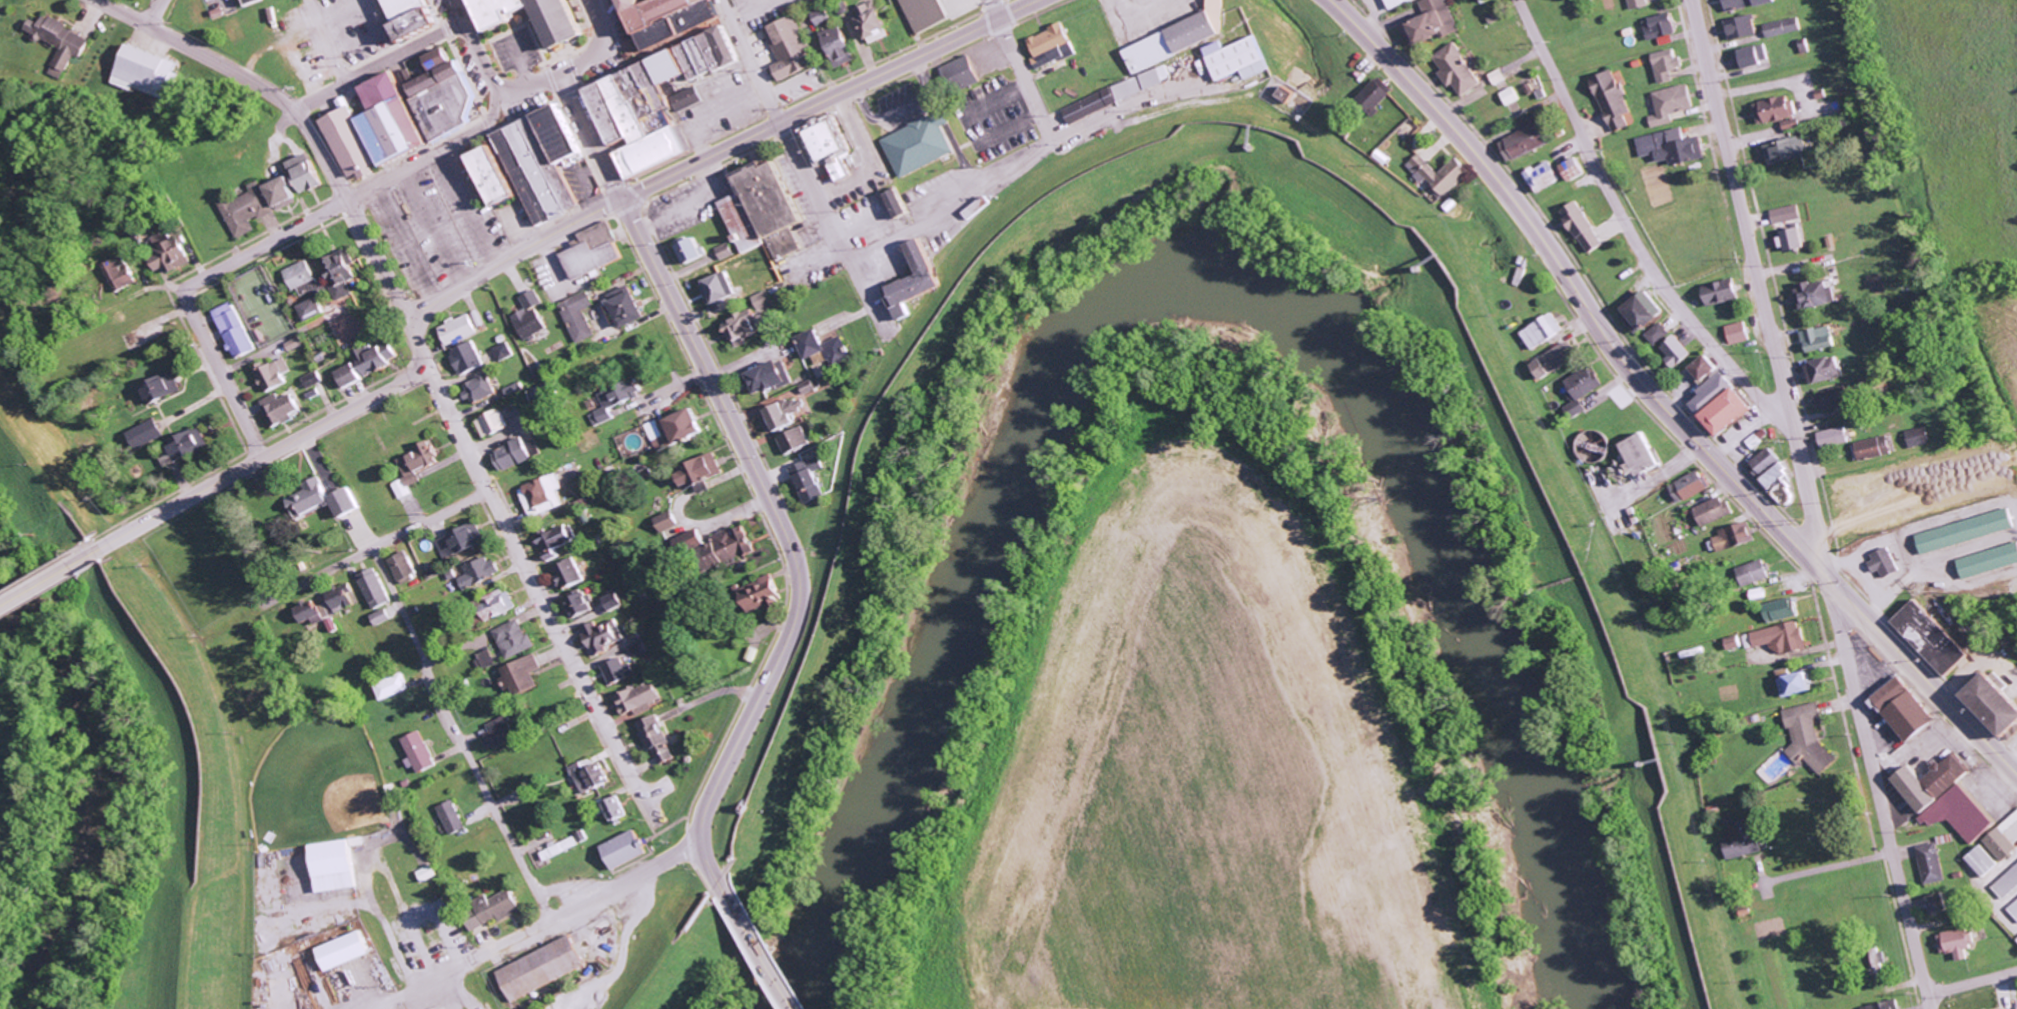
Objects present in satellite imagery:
building: (255, 2)
building: (1401, 3)
building: (1751, 3)
building: (1639, 4)
road: (150, 13)
building: (926, 14)
building: (417, 17)
building: (674, 18)
building: (874, 19)
building: (1440, 21)
building: (1662, 26)
building: (566, 27)
building: (1783, 27)
building: (1743, 28)
building: (1181, 39)
road: (325, 41)
building: (60, 42)
road: (598, 45)
building: (842, 46)
building: (1053, 47)
building: (793, 49)
building: (1752, 57)
building: (1242, 59)
road: (376, 64)
building: (1669, 65)
building: (1461, 70)
building: (147, 72)
road: (488, 73)
building: (963, 73)
road: (1022, 74)
building: (1121, 94)
building: (1293, 95)
building: (1378, 96)
road: (828, 99)
building: (1616, 100)
building: (662, 102)
building: (422, 104)
building: (1673, 104)
building: (1780, 112)
building: (1533, 137)
road: (592, 138)
building: (350, 140)
building: (922, 145)
building: (1675, 147)
building: (835, 149)
building: (1780, 153)
building: (537, 165)
road: (803, 166)
building: (1579, 169)
building: (306, 173)
building: (1443, 175)
building: (1548, 176)
road: (353, 193)
building: (260, 205)
building: (901, 205)
building: (767, 212)
building: (1782, 213)
building: (1586, 227)
road: (1635, 233)
building: (1786, 238)
building: (595, 251)
building: (691, 251)
building: (724, 251)
building: (174, 255)
road: (506, 260)
river: (1193, 270)
building: (126, 272)
building: (343, 273)
building: (302, 275)
building: (918, 282)
building: (718, 289)
building: (1716, 291)
building: (1811, 293)
building: (532, 301)
building: (762, 301)
building: (314, 309)
building: (1638, 309)
building: (629, 310)
building: (577, 316)
building: (530, 323)
building: (738, 328)
building: (460, 330)
building: (1541, 330)
building: (235, 331)
building: (1735, 332)
building: (1655, 333)
building: (1814, 338)
building: (825, 348)
building: (1672, 350)
building: (503, 352)
building: (379, 358)
building: (467, 359)
building: (1552, 360)
road: (425, 362)
building: (1698, 366)
building: (1820, 368)
road: (219, 375)
building: (274, 375)
building: (352, 376)
building: (770, 378)
building: (314, 379)
building: (163, 388)
building: (480, 389)
building: (1579, 389)
building: (513, 390)
building: (1705, 391)
building: (542, 393)
road: (1658, 398)
building: (1826, 399)
building: (610, 403)
building: (283, 411)
building: (1721, 411)
building: (786, 414)
building: (493, 424)
building: (686, 426)
building: (147, 434)
building: (1829, 436)
building: (1913, 436)
building: (794, 441)
building: (191, 445)
building: (1868, 447)
building: (1634, 454)
building: (513, 455)
building: (1761, 460)
building: (170, 461)
building: (416, 468)
building: (700, 472)
building: (1770, 474)
building: (808, 479)
road: (219, 480)
building: (1687, 486)
building: (542, 496)
building: (311, 499)
building: (349, 502)
road: (1813, 504)
building: (1710, 511)
building: (667, 521)
building: (1960, 530)
building: (1731, 536)
building: (460, 541)
building: (556, 541)
building: (719, 545)
road: (377, 547)
building: (1986, 560)
building: (1880, 562)
building: (405, 568)
building: (1750, 572)
building: (479, 573)
building: (568, 575)
building: (375, 588)
building: (764, 593)
building: (343, 600)
building: (614, 602)
building: (502, 604)
building: (577, 605)
road: (790, 609)
building: (1777, 609)
building: (382, 617)
building: (1779, 637)
building: (1925, 637)
building: (602, 638)
building: (514, 639)
building: (638, 650)
building: (488, 659)
building: (619, 672)
building: (524, 677)
building: (1792, 682)
building: (394, 687)
building: (637, 699)
building: (1898, 708)
building: (501, 732)
road: (458, 735)
building: (1805, 737)
building: (656, 739)
building: (421, 752)
building: (589, 778)
building: (1927, 781)
building: (616, 810)
building: (1958, 813)
building: (452, 817)
building: (1997, 843)
building: (1740, 845)
building: (560, 848)
building: (627, 849)
building: (1979, 861)
building: (1928, 863)
building: (337, 865)
road: (1830, 866)
building: (428, 873)
building: (2005, 882)
building: (1933, 902)
building: (2013, 909)
building: (495, 910)
road: (546, 920)
building: (2016, 940)
building: (1953, 942)
building: (345, 951)
building: (544, 967)
road: (1972, 982)
building: (1882, 1005)
building: (2005, 1008)

